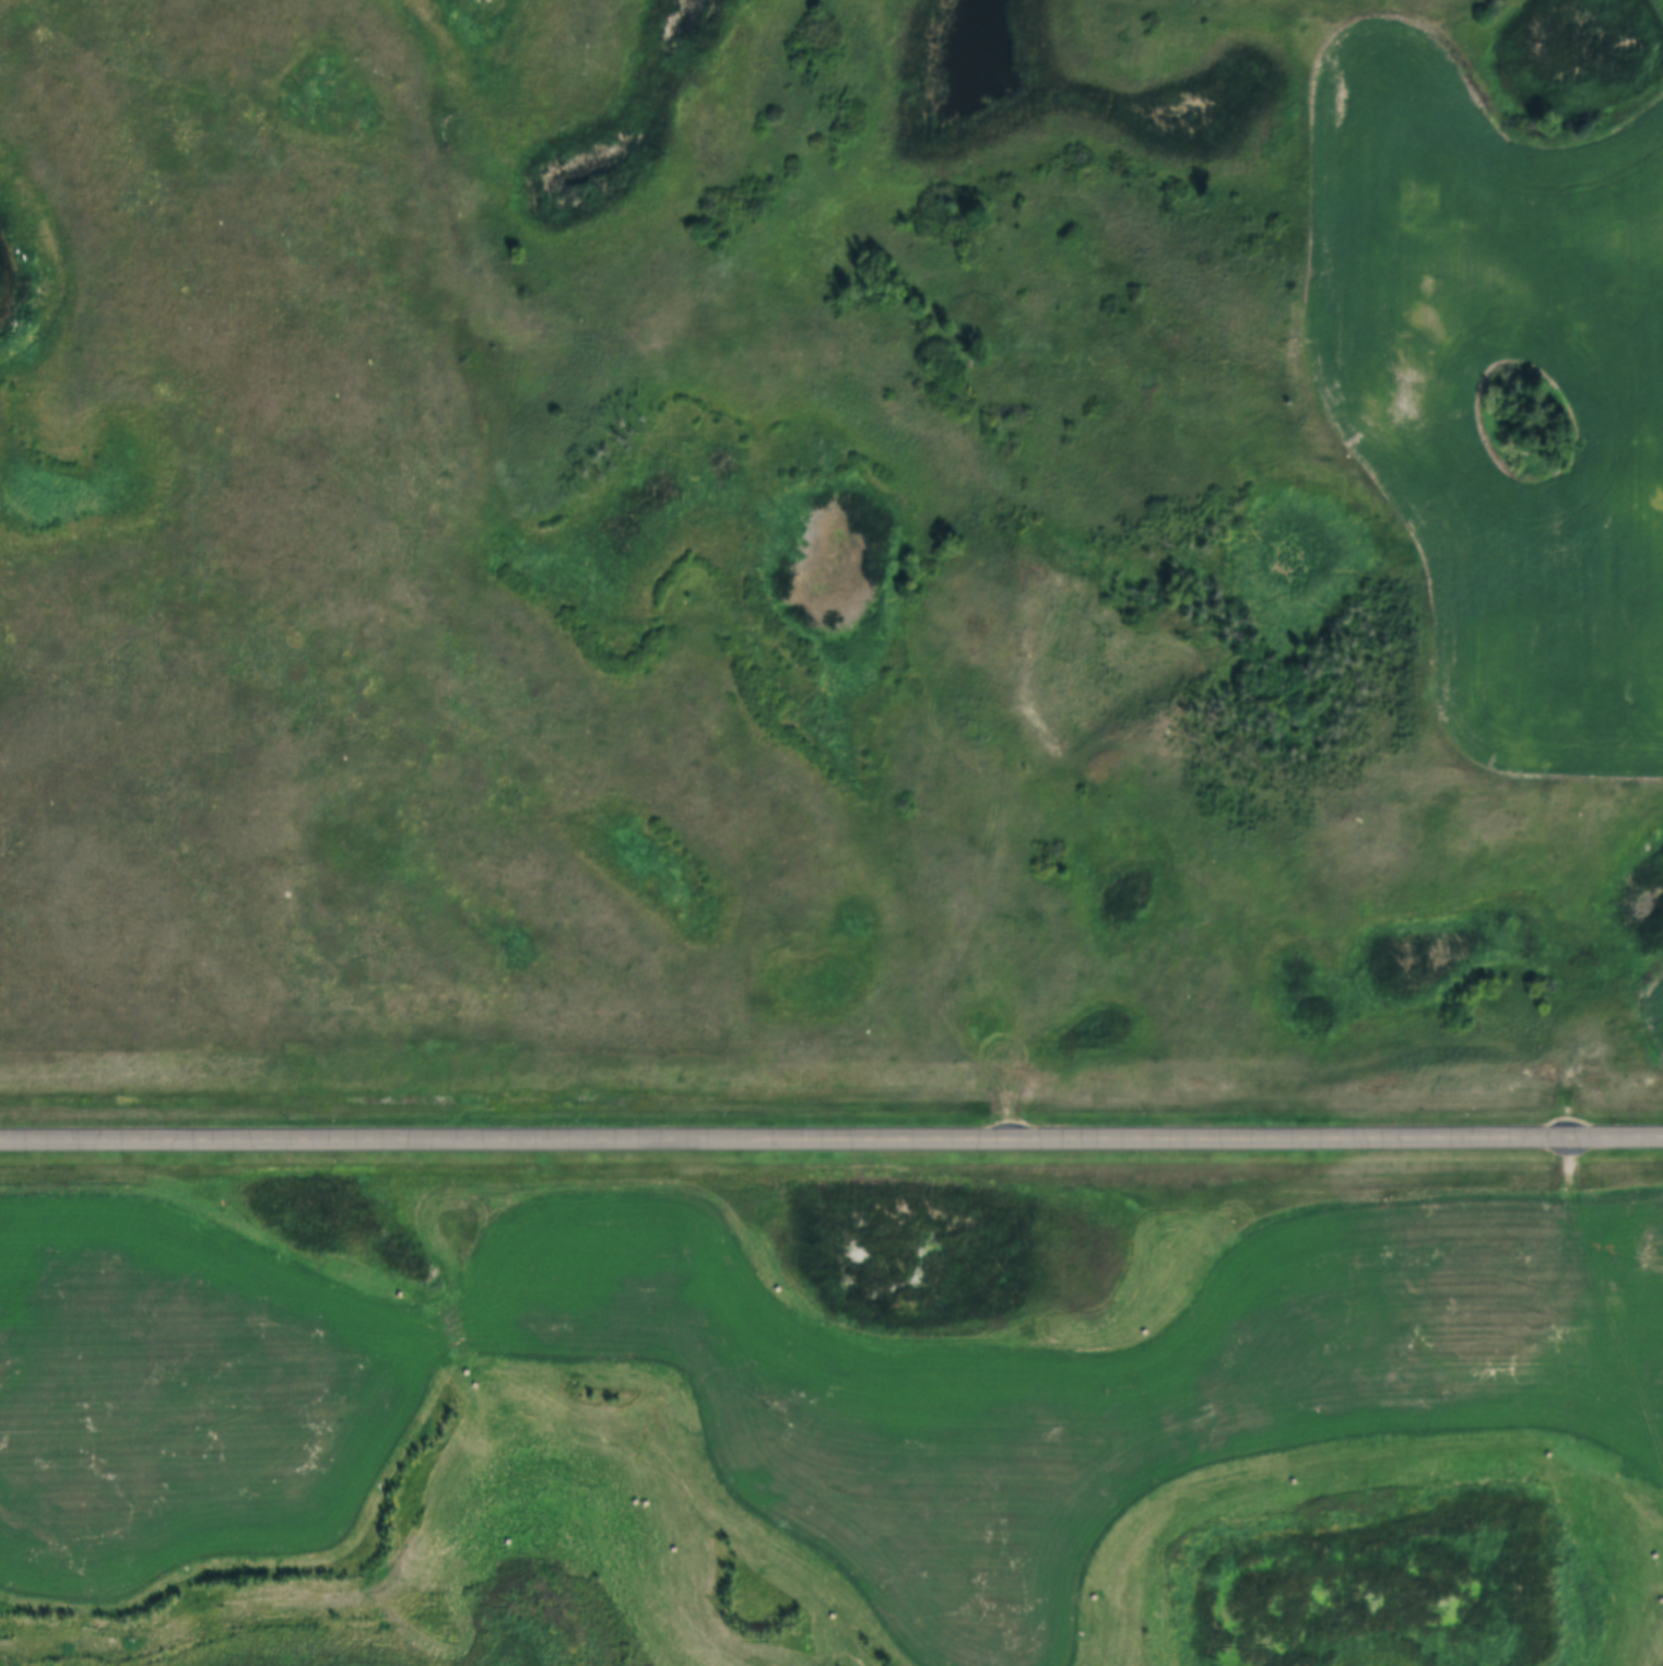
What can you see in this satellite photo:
road: (831, 1136)

